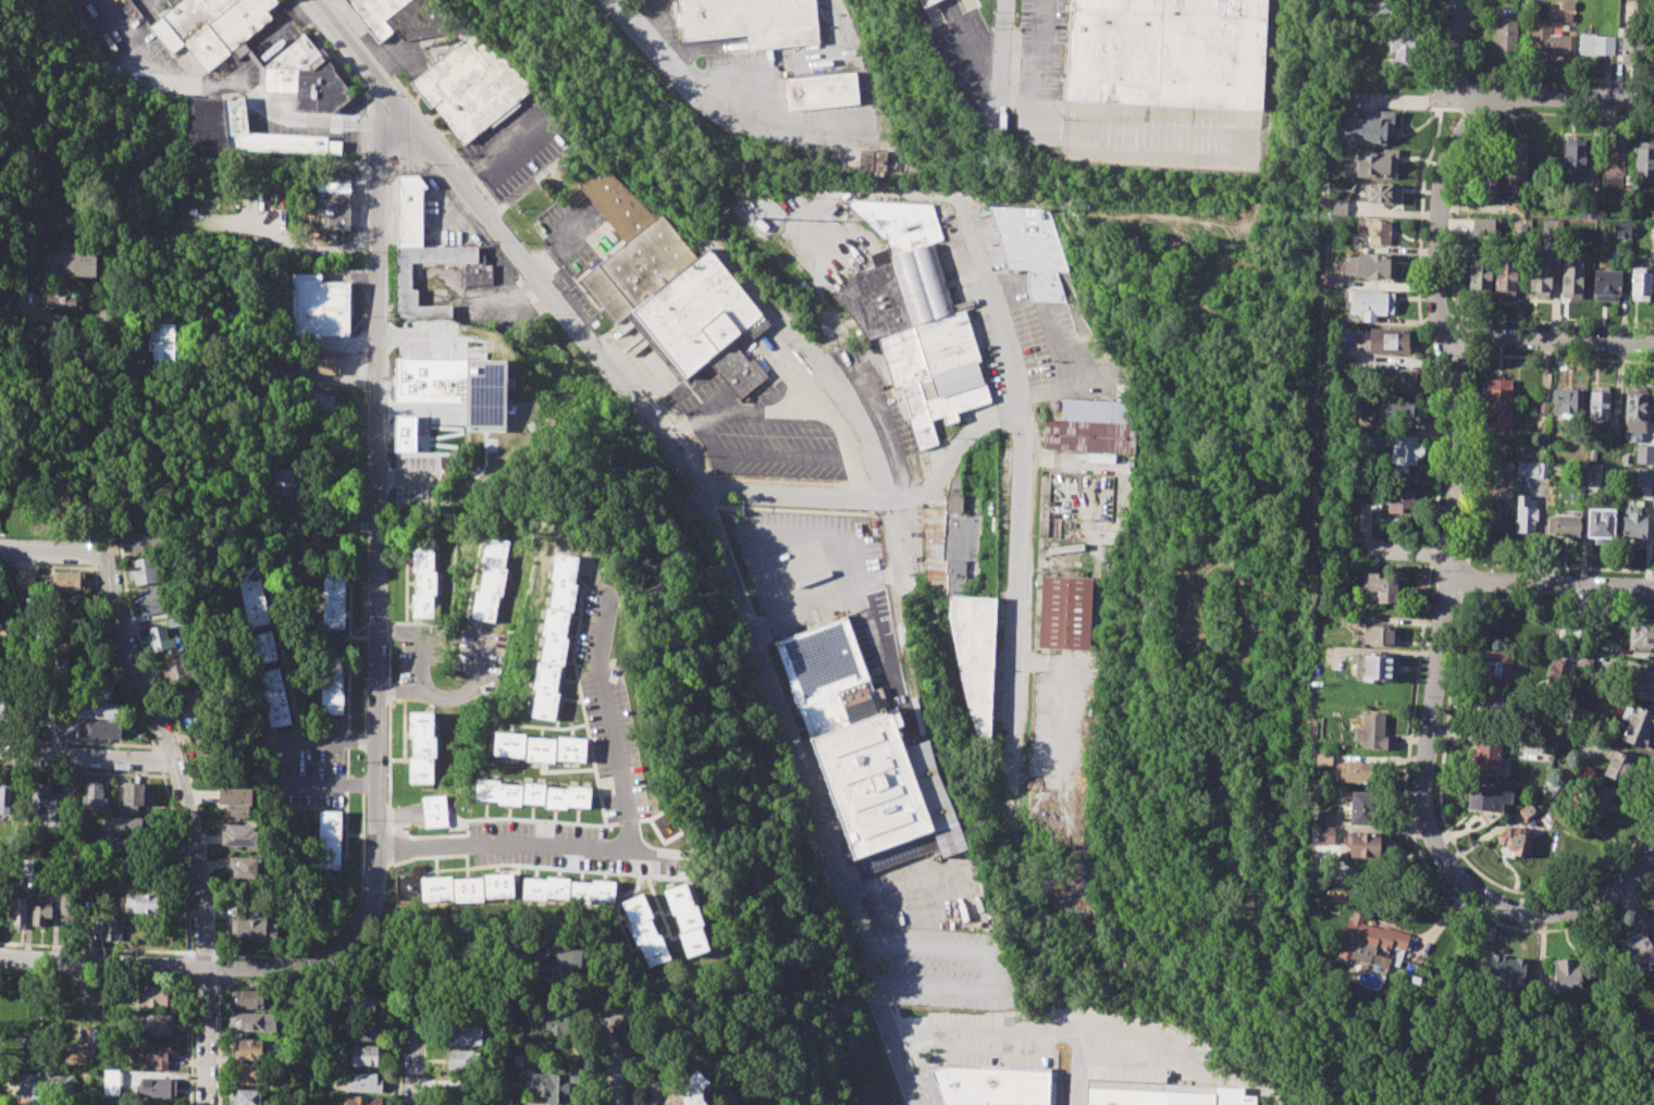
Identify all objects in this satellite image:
building: (928, 2)
building: (1568, 4)
building: (405, 17)
building: (1568, 17)
building: (753, 22)
building: (211, 26)
building: (1505, 32)
building: (1548, 38)
road: (1457, 42)
building: (1596, 44)
building: (1631, 44)
building: (1641, 47)
building: (1403, 50)
building: (1165, 51)
building: (1653, 59)
road: (1003, 63)
building: (305, 78)
road: (227, 83)
building: (470, 83)
building: (822, 91)
road: (1555, 98)
road: (1020, 100)
road: (1410, 100)
road: (1050, 110)
road: (724, 112)
road: (1472, 119)
building: (1368, 128)
building: (242, 131)
parking lot: (519, 145)
road: (507, 152)
building: (1575, 158)
building: (872, 159)
building: (1644, 159)
building: (1515, 162)
building: (1614, 162)
road: (249, 163)
building: (1375, 163)
building: (1486, 181)
road: (874, 189)
building: (1382, 194)
building: (330, 207)
building: (1338, 207)
building: (1514, 209)
building: (1585, 209)
road: (1394, 213)
building: (1482, 225)
building: (1379, 229)
road: (1454, 229)
building: (1621, 231)
building: (1651, 231)
building: (1030, 249)
building: (424, 251)
building: (71, 263)
building: (1372, 265)
building: (1479, 274)
building: (1505, 275)
road: (114, 276)
building: (1540, 277)
building: (1333, 281)
building: (1571, 282)
building: (1640, 283)
building: (1606, 285)
building: (671, 289)
building: (54, 300)
building: (1369, 302)
building: (317, 308)
building: (914, 318)
road: (1459, 318)
road: (1459, 337)
building: (1388, 340)
building: (162, 342)
road: (1547, 343)
road: (1470, 359)
building: (325, 365)
building: (1398, 380)
building: (458, 383)
building: (320, 401)
building: (1597, 401)
building: (1566, 402)
building: (1498, 405)
building: (1637, 409)
road: (791, 410)
building: (1398, 412)
road: (694, 420)
building: (1613, 425)
building: (1087, 426)
road: (703, 438)
building: (405, 452)
building: (1405, 452)
building: (1644, 454)
road: (780, 456)
building: (1626, 458)
road: (1474, 460)
road: (378, 469)
building: (1531, 469)
building: (1588, 473)
road: (855, 476)
building: (1644, 477)
building: (286, 482)
road: (876, 499)
building: (1402, 502)
road: (696, 506)
road: (1023, 510)
building: (1525, 514)
building: (1493, 517)
building: (1601, 523)
building: (1564, 524)
building: (1634, 527)
road: (1583, 535)
building: (1653, 537)
road: (1650, 541)
building: (141, 542)
building: (949, 543)
building: (316, 544)
road: (1310, 547)
road: (52, 554)
road: (1410, 554)
road: (1466, 555)
road: (1446, 561)
building: (144, 571)
building: (491, 579)
road: (1458, 579)
building: (24, 580)
building: (66, 581)
building: (423, 582)
road: (1551, 585)
building: (1381, 587)
building: (254, 596)
building: (333, 599)
road: (1551, 599)
building: (149, 600)
building: (69, 603)
building: (1065, 611)
building: (175, 621)
road: (1442, 626)
building: (1641, 634)
building: (555, 635)
building: (1379, 637)
building: (160, 640)
road: (422, 643)
building: (264, 646)
road: (1382, 650)
road: (1627, 650)
building: (975, 656)
building: (62, 659)
building: (1374, 667)
building: (176, 668)
building: (1496, 668)
building: (1563, 668)
building: (1641, 682)
building: (333, 685)
building: (96, 690)
building: (275, 697)
road: (452, 697)
building: (5, 708)
building: (98, 710)
building: (1491, 712)
building: (1575, 715)
building: (1640, 727)
building: (100, 730)
building: (1374, 732)
building: (1566, 736)
road: (1218, 742)
building: (1543, 745)
building: (422, 746)
building: (539, 747)
building: (867, 754)
road: (87, 758)
building: (1485, 758)
road: (289, 759)
building: (1620, 766)
building: (1356, 771)
building: (1555, 792)
building: (530, 794)
building: (94, 796)
building: (135, 796)
building: (1489, 797)
building: (236, 799)
building: (1595, 799)
building: (5, 800)
building: (42, 802)
building: (1363, 806)
building: (435, 810)
building: (1529, 810)
building: (1324, 817)
road: (188, 823)
building: (125, 828)
building: (239, 835)
building: (1325, 835)
building: (330, 839)
building: (1515, 841)
building: (1367, 844)
road: (1417, 847)
road: (630, 849)
road: (1458, 851)
road: (649, 852)
building: (26, 866)
building: (248, 869)
road: (897, 877)
building: (407, 887)
building: (468, 887)
building: (569, 890)
building: (70, 899)
building: (140, 904)
building: (42, 906)
road: (1638, 908)
building: (20, 911)
building: (688, 919)
road: (343, 927)
building: (109, 929)
building: (254, 929)
building: (644, 931)
building: (1366, 940)
road: (919, 944)
building: (1639, 949)
building: (561, 960)
building: (1497, 967)
road: (988, 968)
road: (218, 969)
road: (227, 970)
building: (1567, 973)
road: (927, 986)
building: (153, 996)
building: (248, 998)
building: (363, 1004)
road: (568, 1010)
building: (557, 1019)
building: (250, 1021)
road: (1089, 1023)
building: (151, 1025)
building: (367, 1030)
building: (564, 1030)
building: (465, 1033)
road: (218, 1042)
road: (411, 1043)
road: (398, 1044)
building: (252, 1048)
building: (155, 1055)
building: (367, 1055)
road: (617, 1058)
building: (464, 1060)
road: (1073, 1066)
building: (252, 1073)
building: (111, 1082)
building: (365, 1083)
road: (1351, 1083)
building: (995, 1085)
building: (45, 1087)
building: (156, 1088)
building: (552, 1088)
building: (684, 1091)
building: (1163, 1094)
building: (247, 1097)
building: (362, 1101)

